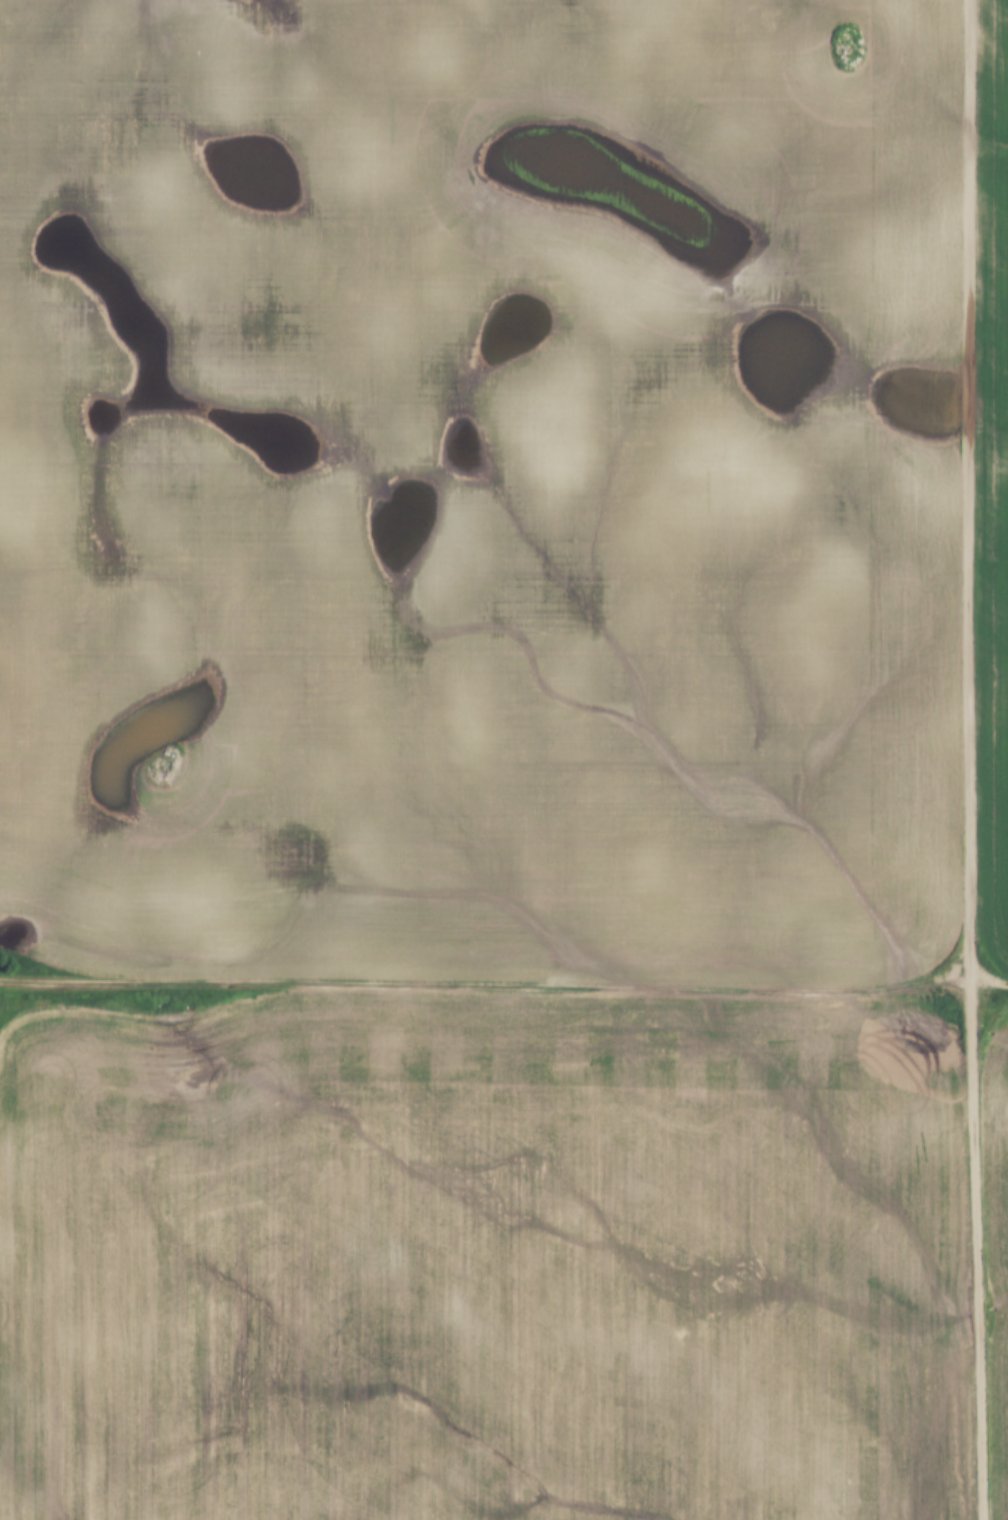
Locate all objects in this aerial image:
road: (968, 760)
road: (988, 972)
road: (486, 985)

